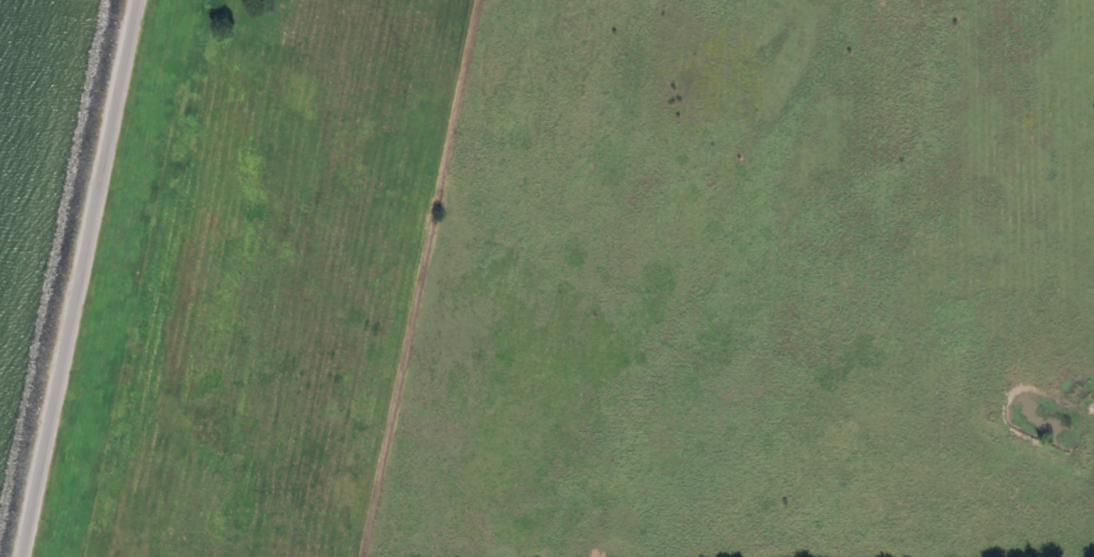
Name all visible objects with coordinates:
road: (91, 277)
dam: (102, 280)

